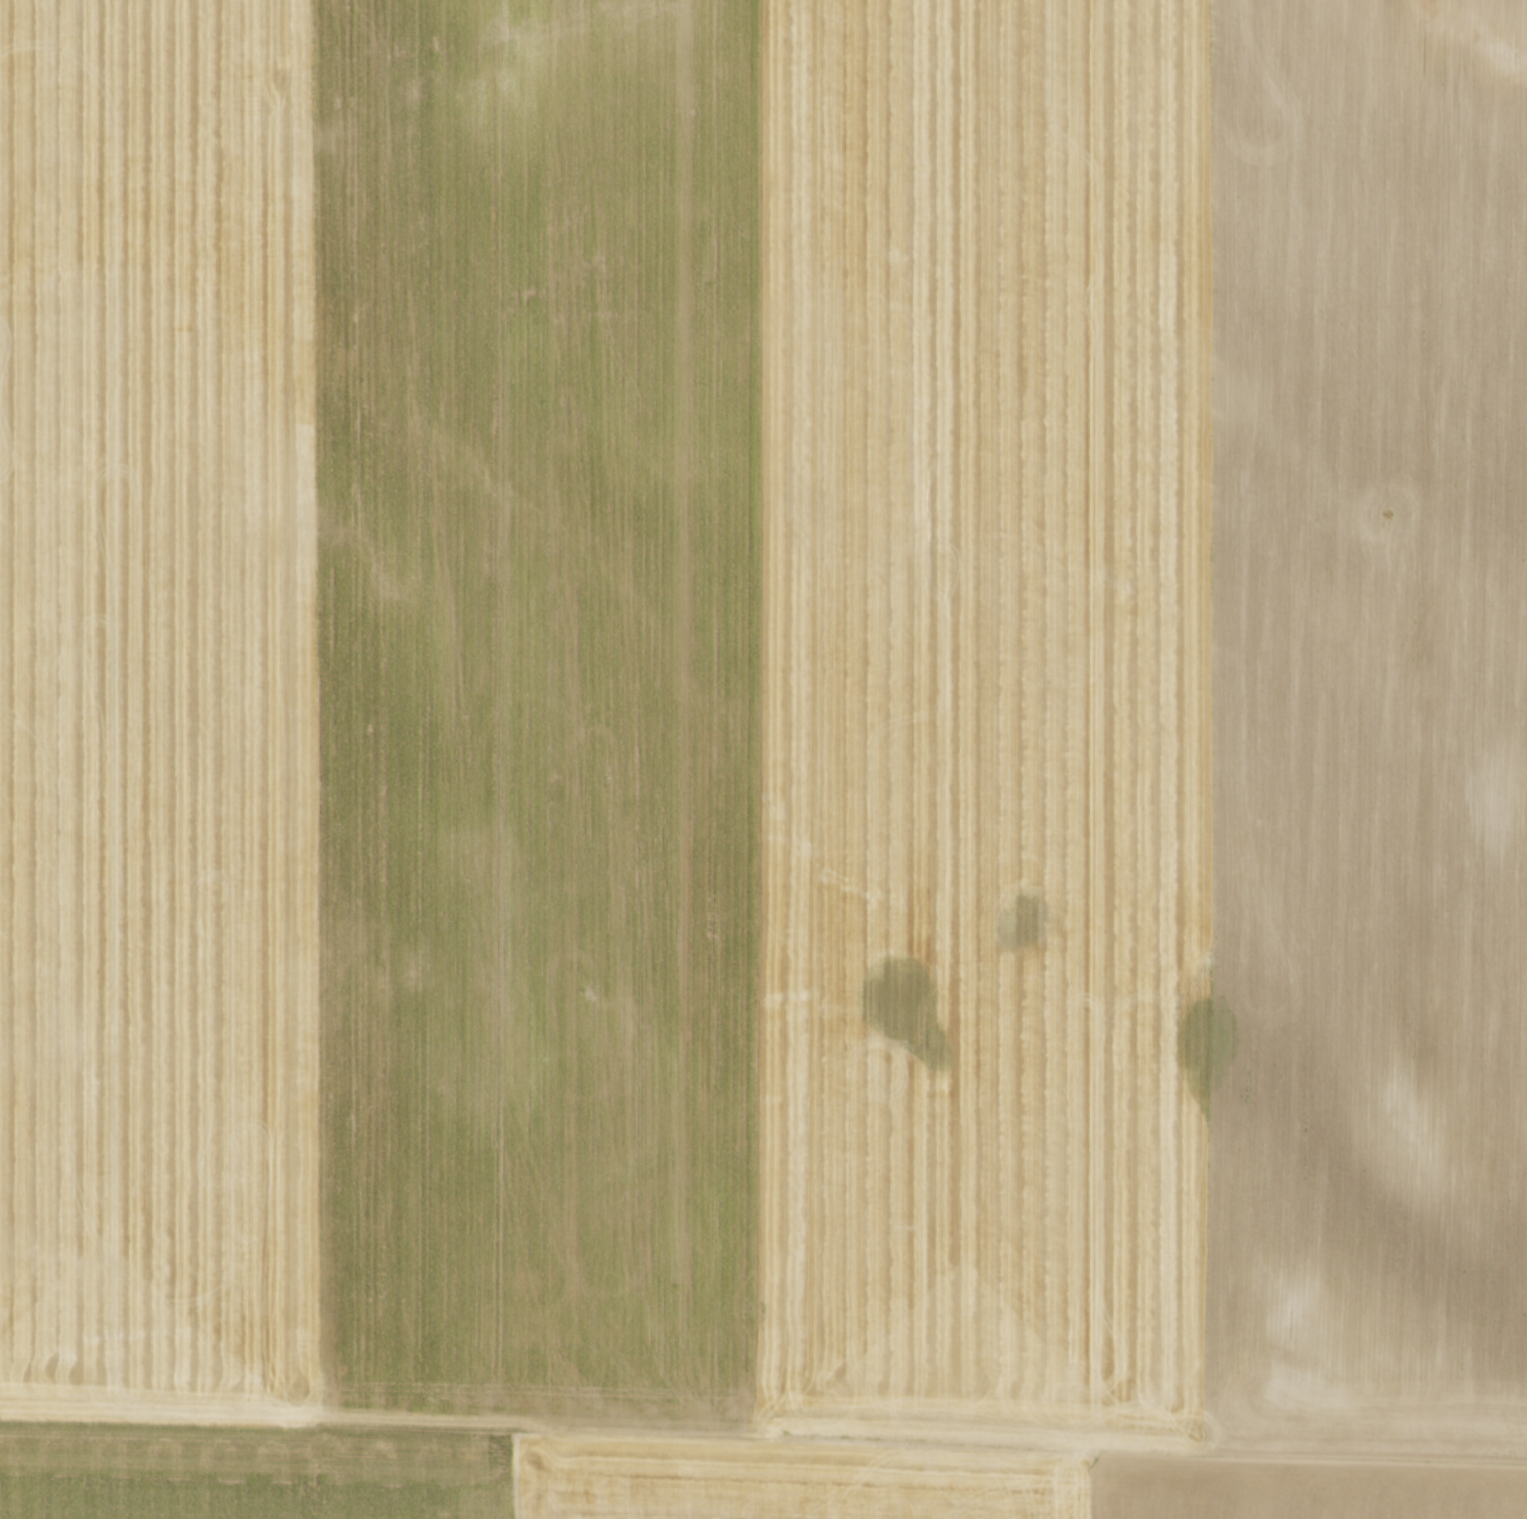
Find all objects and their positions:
road: (763, 1505)

